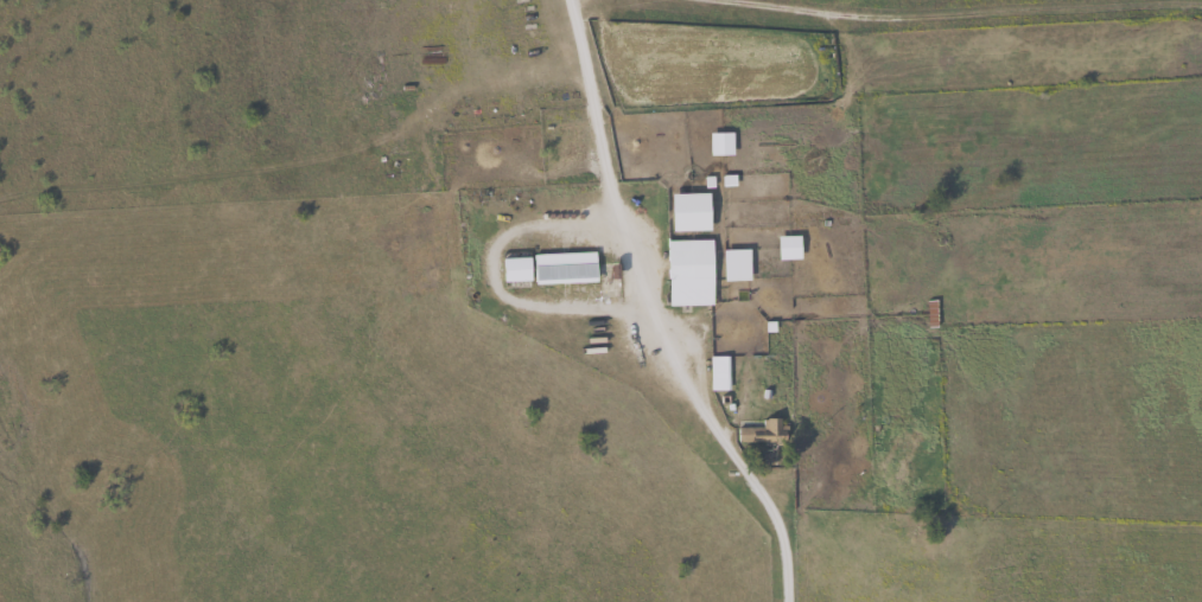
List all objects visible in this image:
road: (885, 44)
building: (693, 213)
building: (692, 263)
building: (566, 269)
road: (647, 315)
building: (929, 315)
building: (719, 374)
building: (759, 434)

